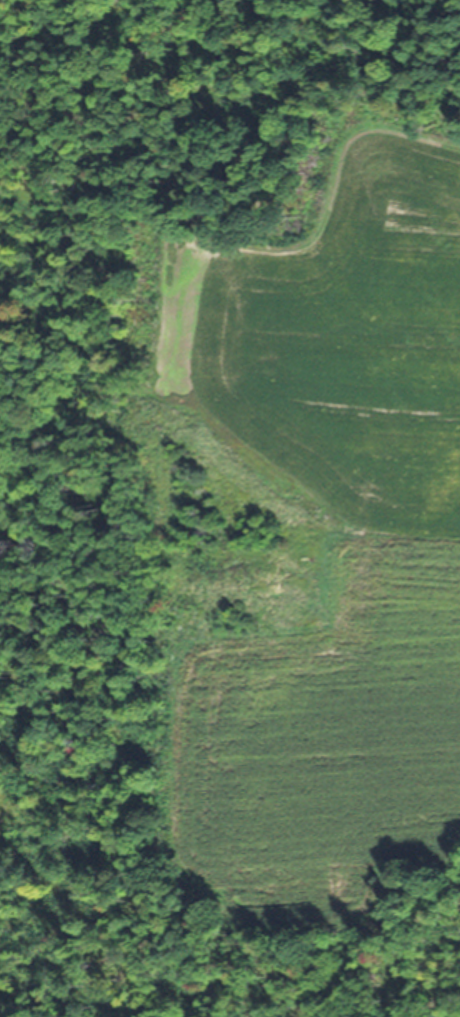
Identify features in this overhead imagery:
crop: (322, 522)

